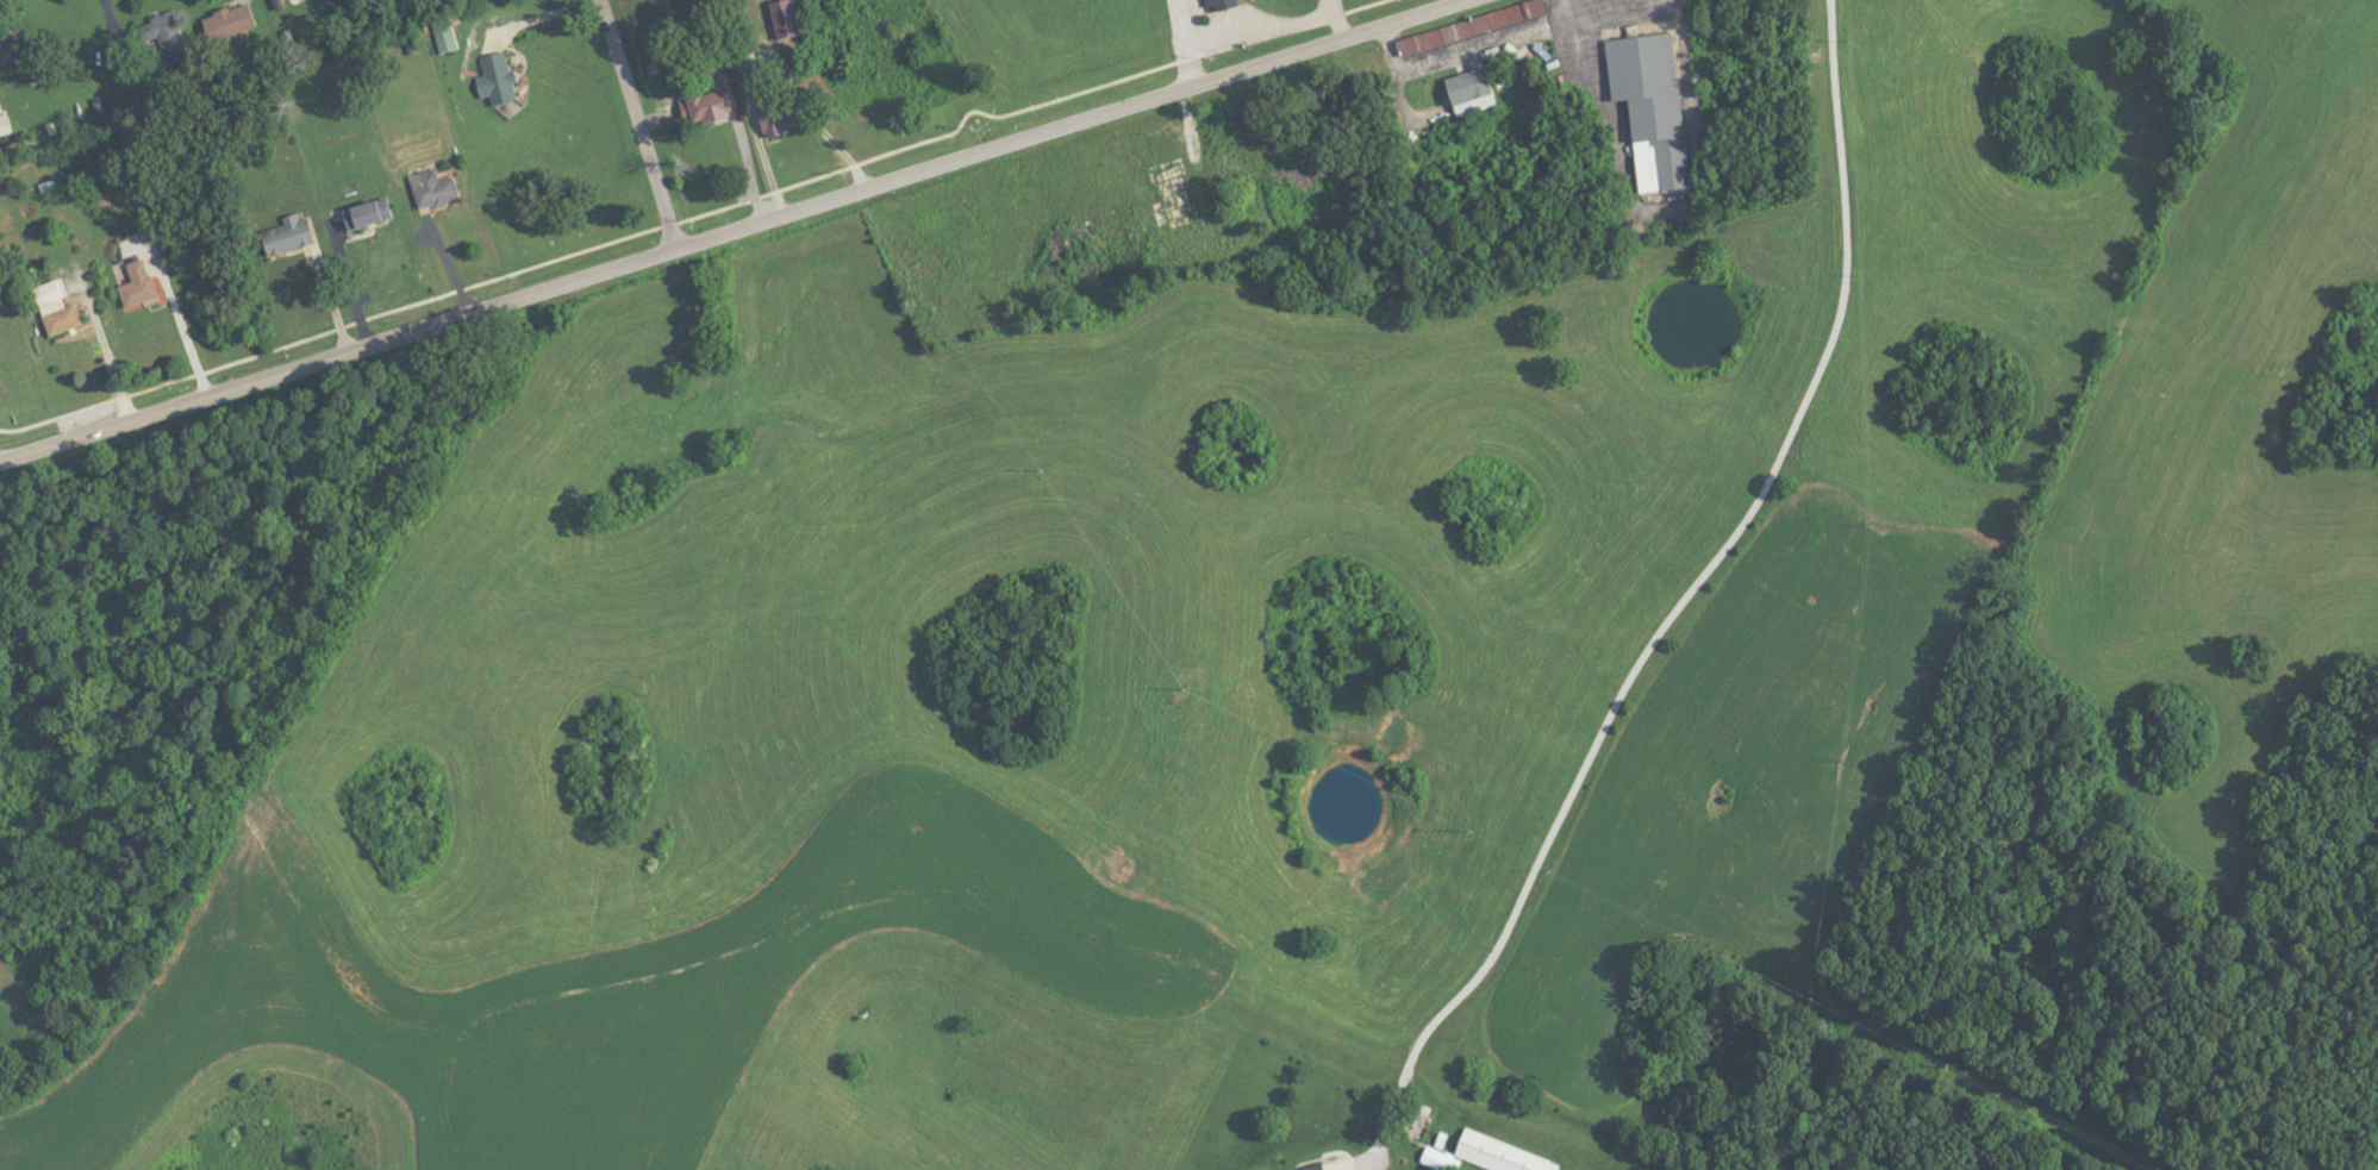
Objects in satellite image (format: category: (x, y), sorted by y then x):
building: (1224, 5)
road: (1261, 19)
road: (1627, 19)
building: (238, 20)
building: (792, 20)
road: (1336, 20)
building: (1475, 27)
building: (169, 36)
building: (449, 36)
road: (1190, 42)
road: (1578, 48)
building: (12, 49)
building: (503, 80)
building: (1475, 93)
building: (718, 106)
building: (1656, 110)
building: (784, 112)
road: (641, 124)
building: (6, 126)
building: (438, 189)
building: (373, 215)
road: (736, 231)
building: (293, 236)
building: (142, 286)
building: (61, 309)
road: (181, 331)
road: (1689, 595)
building: (1490, 1156)
building: (1321, 1168)

